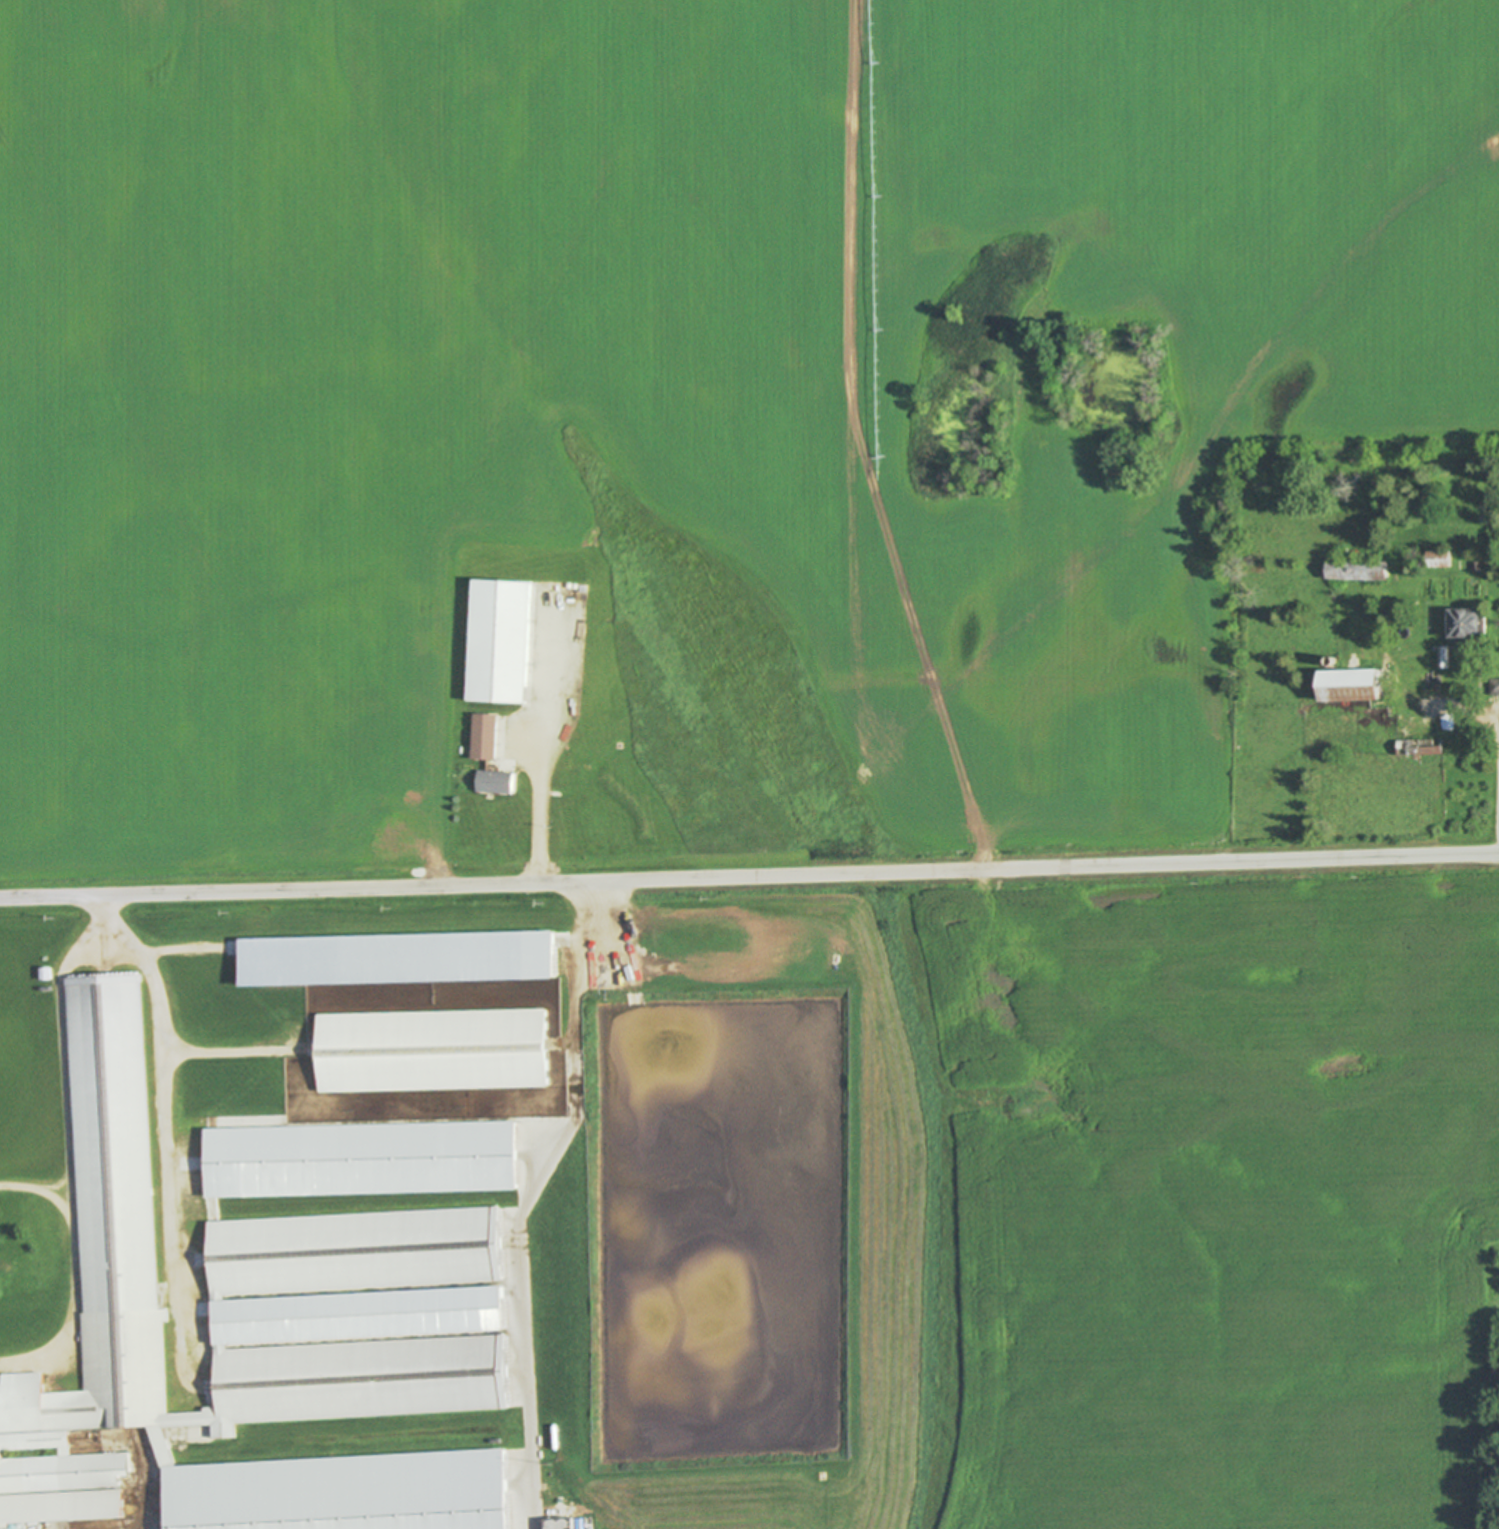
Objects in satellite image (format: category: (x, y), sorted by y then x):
building: (1439, 558)
building: (1477, 566)
building: (1357, 570)
building: (1466, 624)
building: (496, 641)
building: (1444, 656)
building: (1333, 660)
building: (1354, 684)
building: (1494, 686)
building: (553, 696)
building: (482, 736)
building: (1420, 746)
building: (493, 782)
road: (543, 809)
road: (749, 876)
building: (394, 960)
building: (430, 1049)
road: (165, 1131)
road: (70, 1147)
building: (358, 1158)
road: (36, 1187)
road: (521, 1198)
building: (349, 1251)
building: (204, 1309)
building: (576, 1523)
building: (559, 1524)

